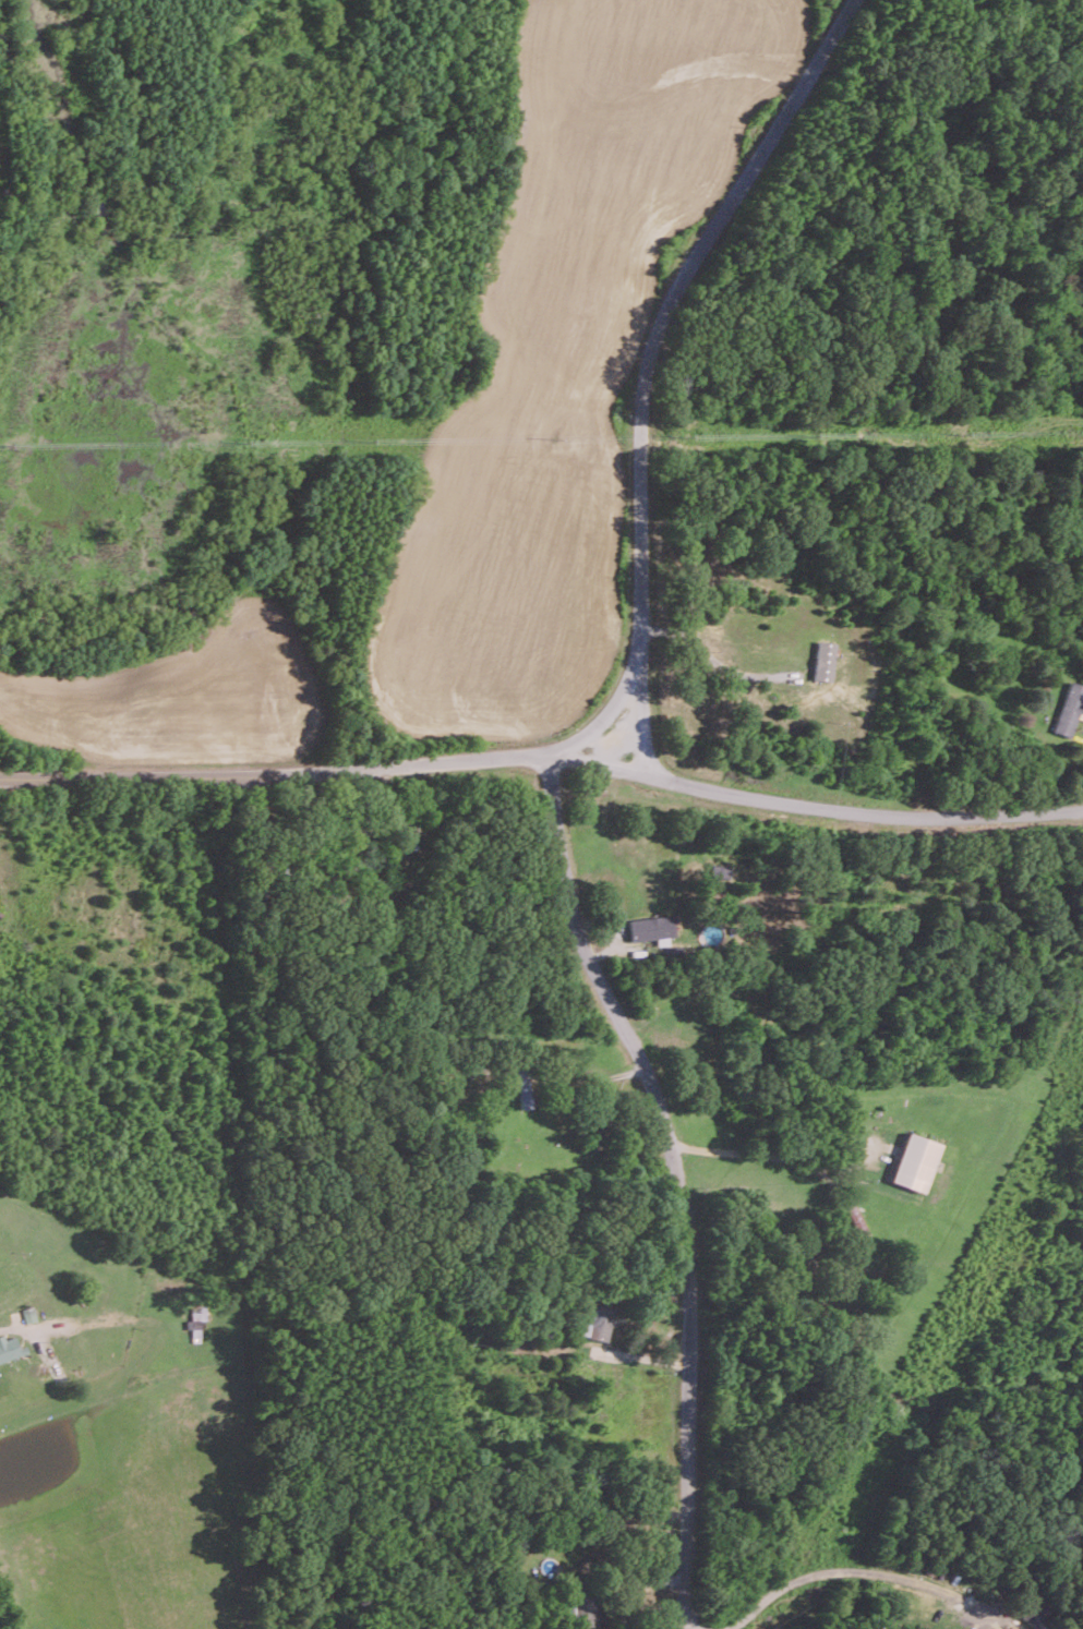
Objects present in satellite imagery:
road: (667, 306)
road: (714, 660)
building: (823, 660)
building: (1068, 708)
road: (606, 714)
road: (642, 716)
road: (324, 770)
road: (863, 813)
building: (650, 927)
building: (525, 1085)
road: (761, 1156)
building: (914, 1161)
road: (674, 1179)
building: (10, 1348)
road: (852, 1571)
building: (583, 1604)
building: (1032, 1619)
building: (1015, 1628)

